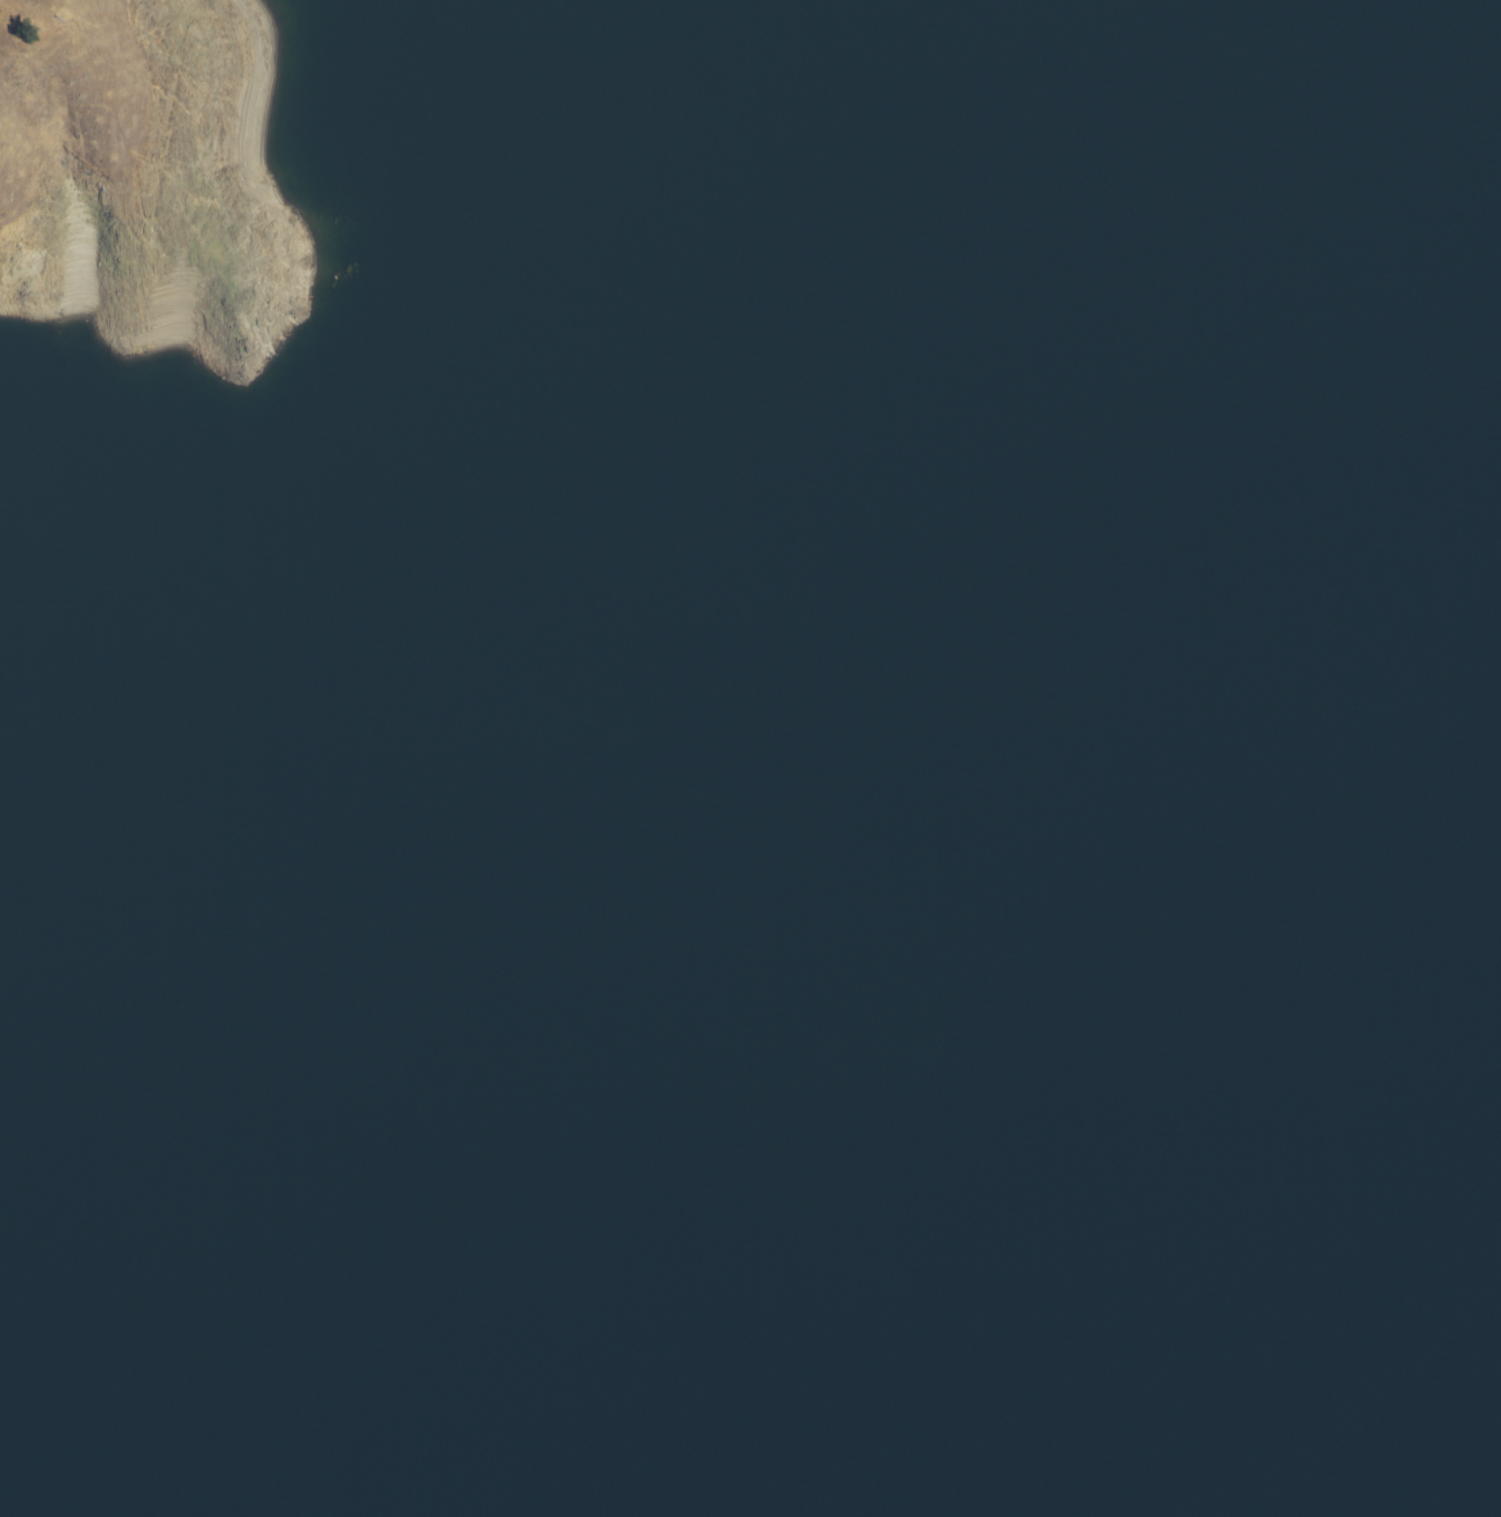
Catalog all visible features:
park: (755, 763)
river: (689, 937)

